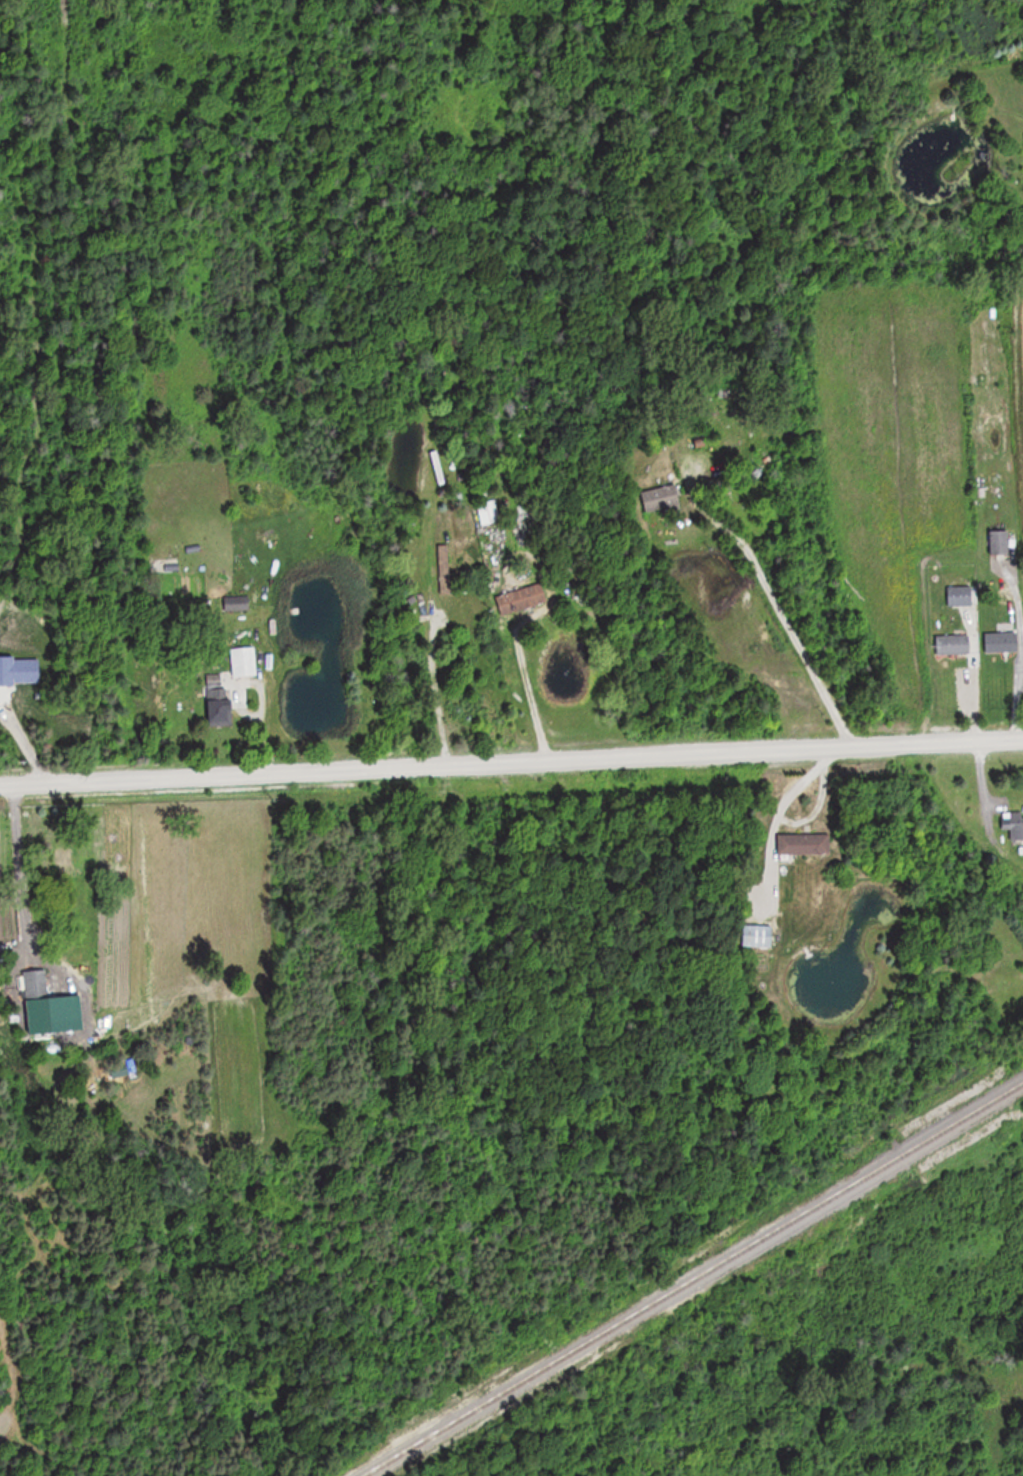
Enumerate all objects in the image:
building: (661, 498)
building: (487, 512)
building: (1000, 543)
building: (521, 593)
building: (960, 596)
building: (237, 604)
road: (782, 613)
building: (1001, 642)
building: (953, 644)
building: (243, 662)
building: (214, 684)
road: (529, 692)
building: (220, 713)
road: (511, 759)
road: (776, 815)
building: (1013, 825)
building: (803, 844)
building: (65, 856)
building: (757, 937)
building: (35, 985)
railway: (692, 1280)

